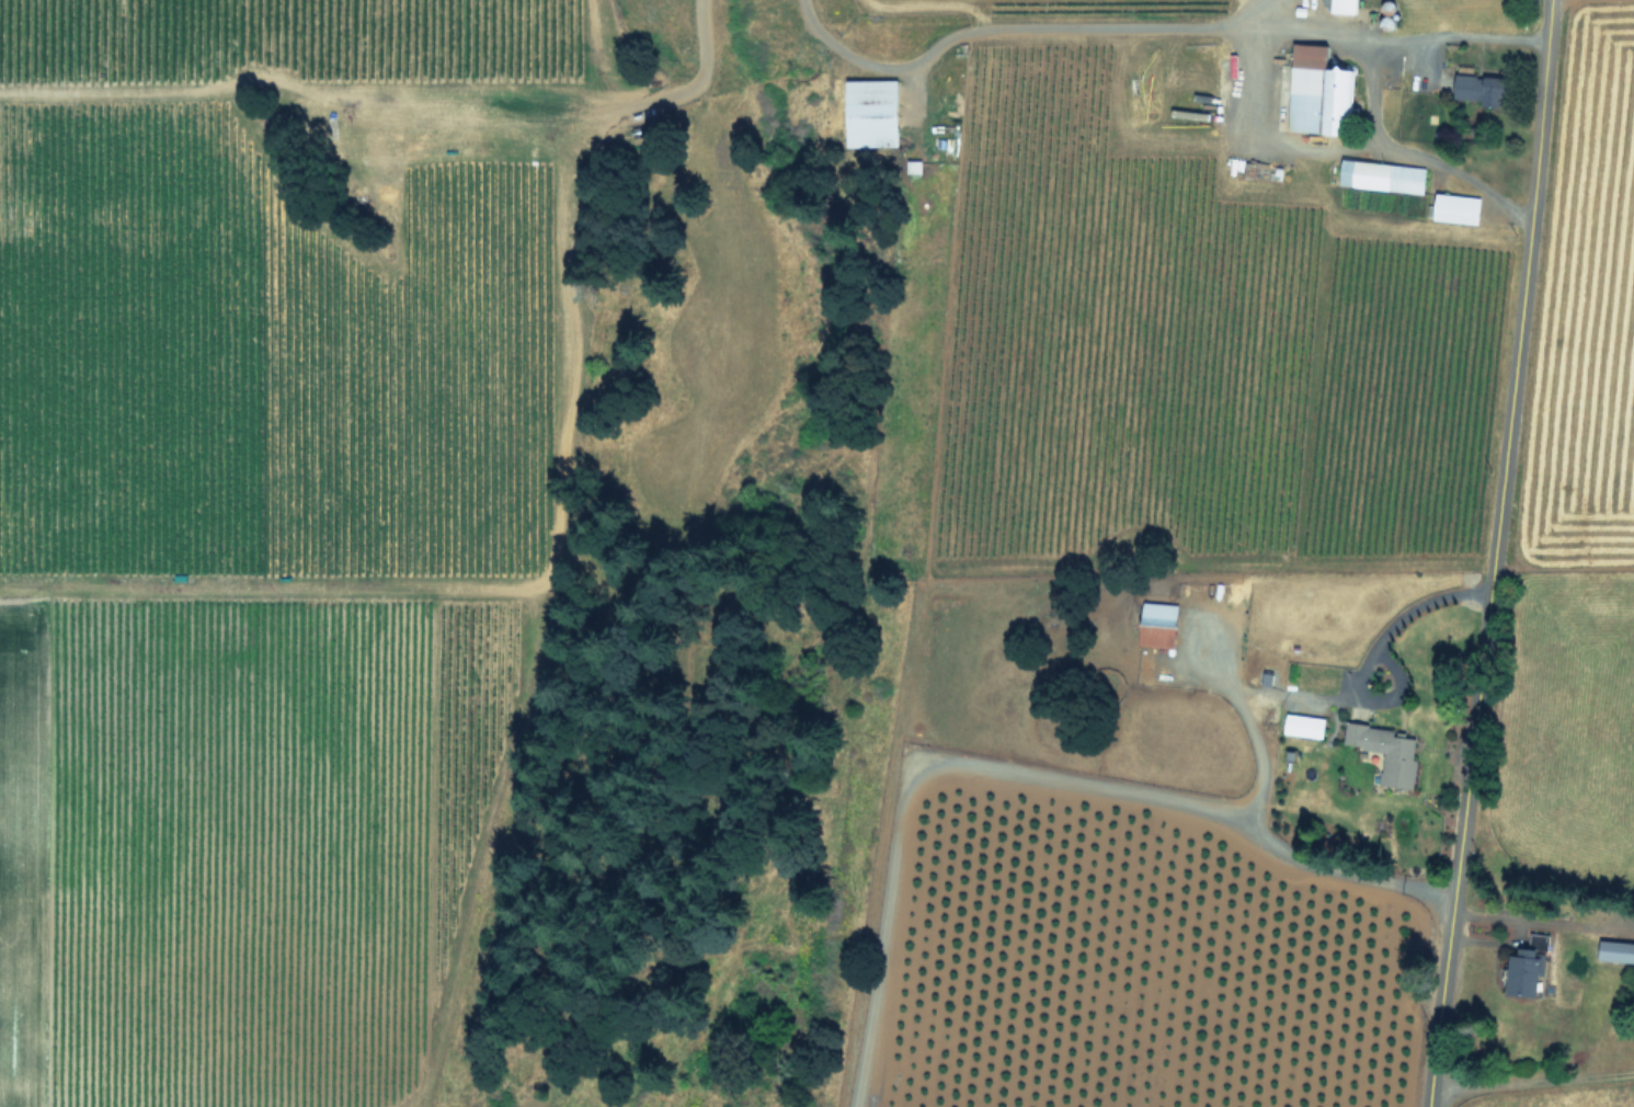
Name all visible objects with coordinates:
road: (1115, 30)
road: (1410, 42)
building: (1475, 87)
building: (1314, 89)
building: (867, 112)
road: (1330, 147)
building: (911, 164)
building: (1378, 174)
building: (1452, 206)
crop: (254, 517)
crop: (1168, 543)
road: (1490, 553)
building: (1153, 623)
crop: (1568, 631)
road: (1322, 695)
building: (1300, 724)
building: (1383, 751)
road: (1018, 768)
road: (1541, 920)
building: (1613, 950)
building: (1520, 968)
road: (1530, 1080)

